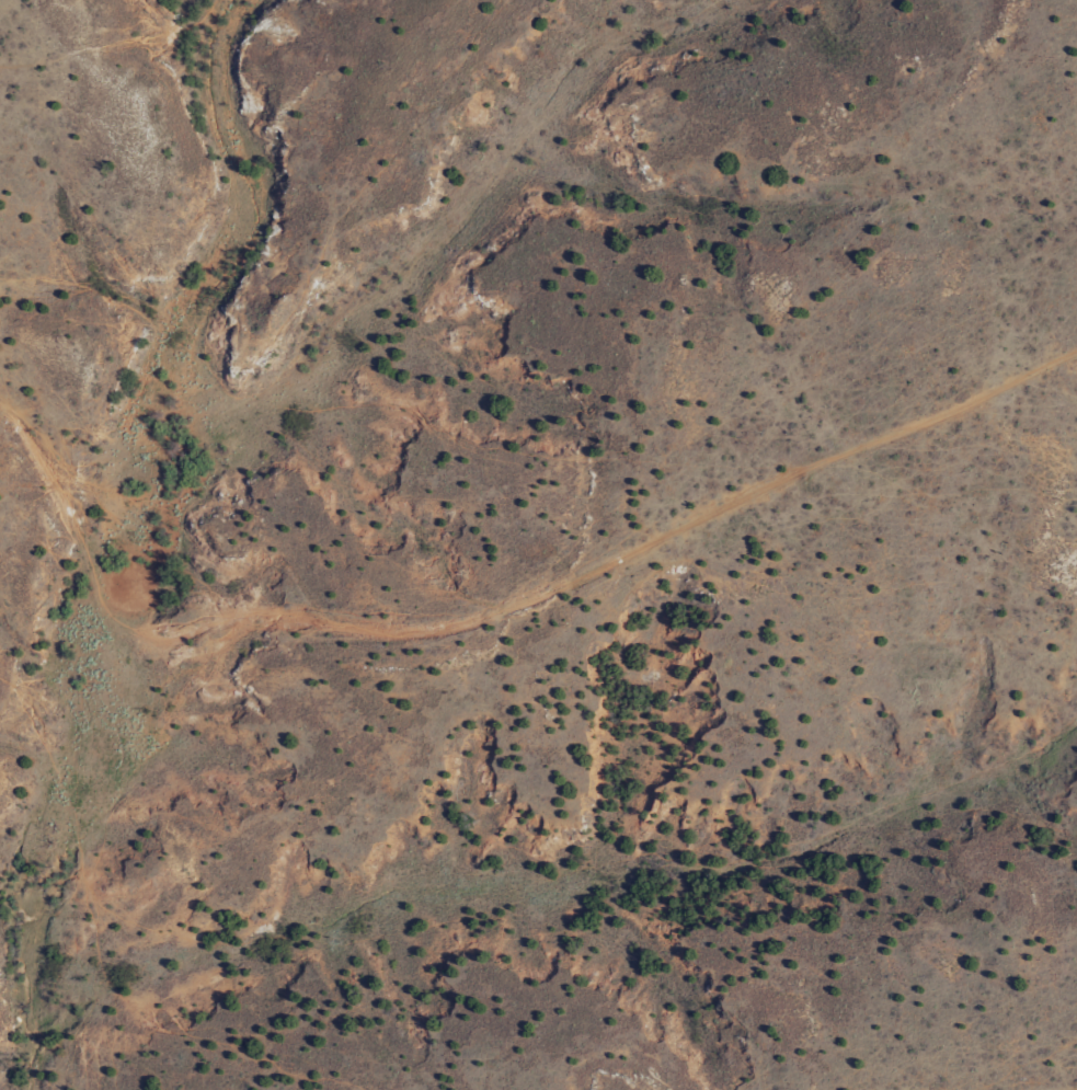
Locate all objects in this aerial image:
road: (522, 580)

